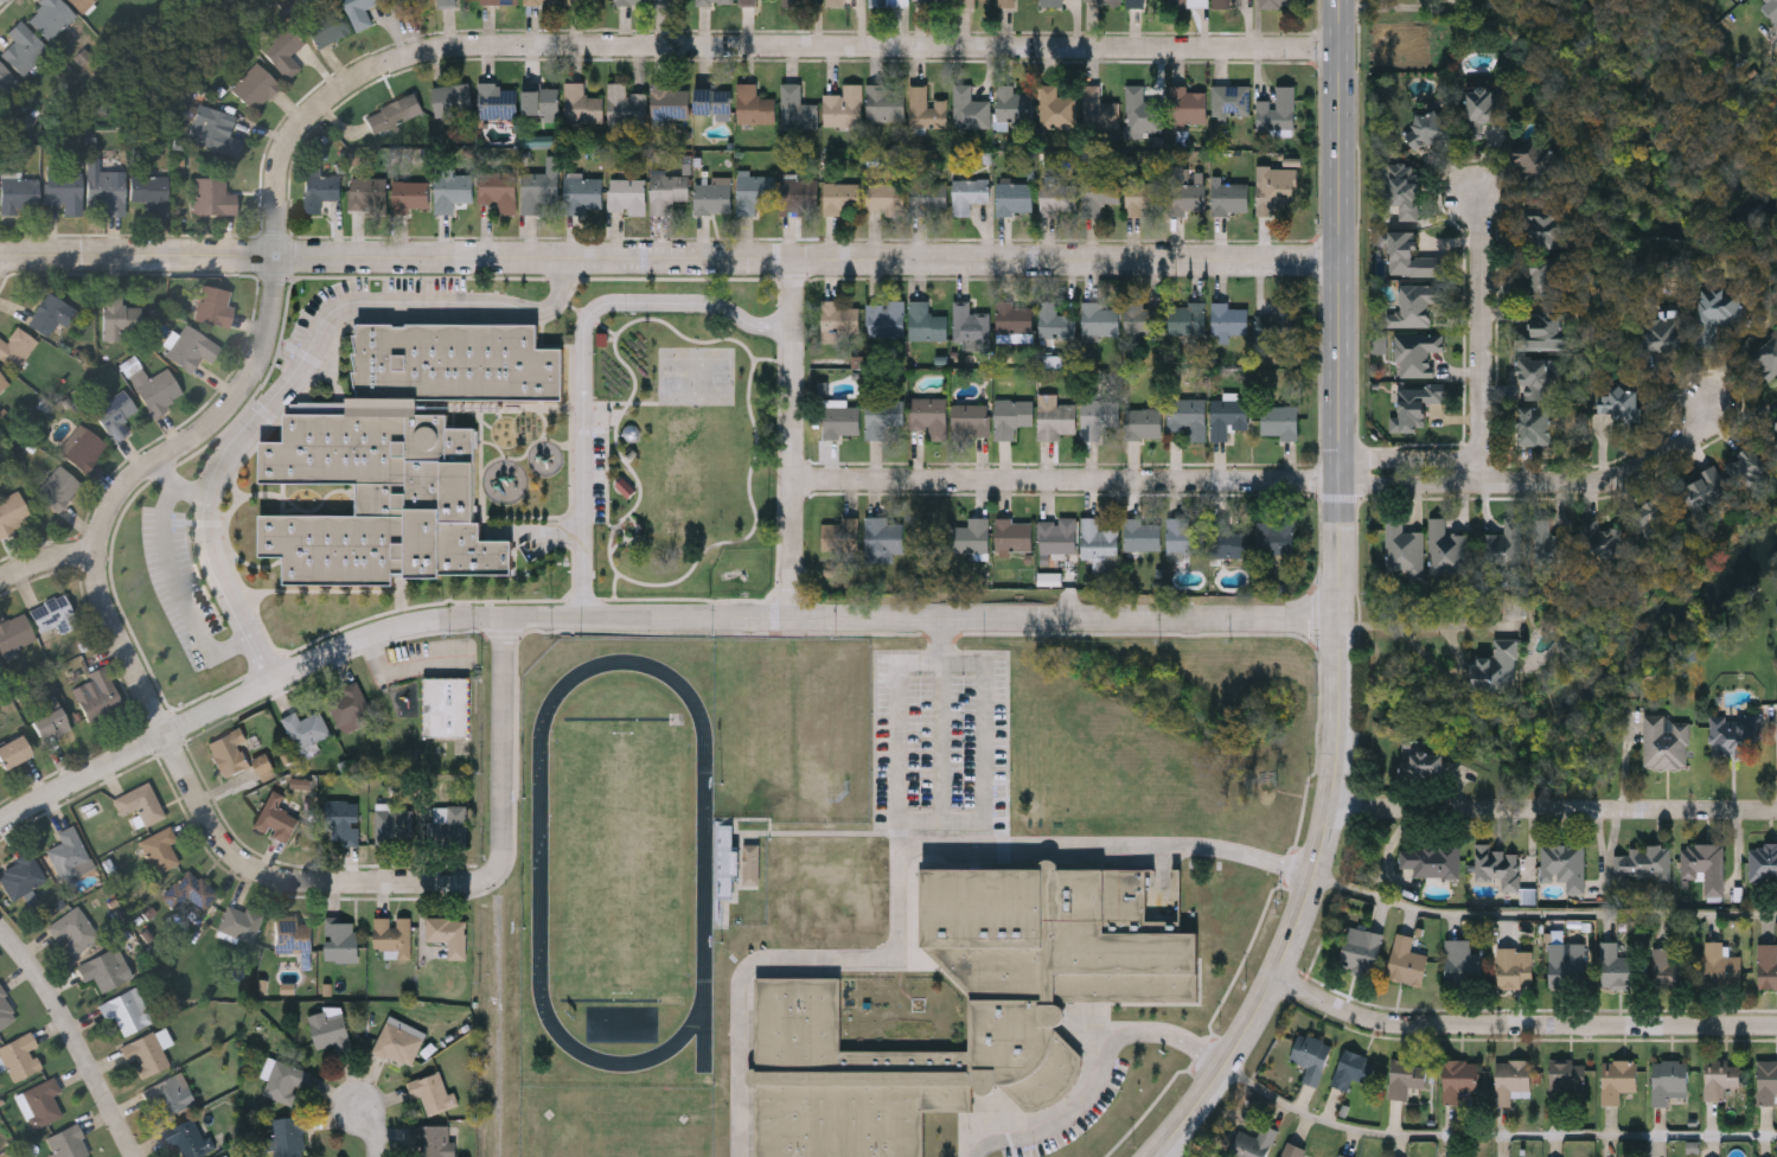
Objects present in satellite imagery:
building: (498, 0)
building: (542, 0)
building: (580, 0)
building: (631, 0)
building: (934, 0)
building: (1445, 0)
building: (446, 1)
building: (661, 1)
building: (714, 1)
building: (747, 1)
building: (790, 1)
building: (833, 1)
building: (877, 1)
building: (965, 1)
building: (1005, 1)
building: (1134, 1)
building: (1277, 1)
building: (1775, 1)
building: (1049, 2)
building: (1110, 2)
building: (1188, 2)
building: (1221, 2)
building: (81, 4)
building: (403, 5)
building: (358, 11)
building: (1770, 11)
building: (49, 15)
building: (1775, 20)
building: (326, 25)
building: (23, 47)
building: (282, 49)
park: (167, 75)
building: (5, 78)
building: (255, 87)
building: (452, 98)
building: (1231, 98)
building: (498, 100)
building: (539, 100)
building: (884, 100)
building: (669, 101)
building: (712, 101)
building: (581, 103)
building: (753, 103)
building: (1012, 103)
building: (1188, 103)
building: (1479, 103)
building: (625, 104)
building: (843, 104)
building: (795, 106)
building: (1055, 106)
building: (926, 107)
building: (969, 107)
building: (1098, 107)
building: (1277, 107)
building: (1140, 109)
building: (392, 111)
building: (1423, 126)
building: (216, 132)
road: (283, 141)
building: (1530, 155)
building: (538, 185)
building: (318, 187)
building: (498, 187)
building: (1399, 187)
building: (64, 188)
building: (107, 188)
building: (452, 188)
building: (666, 188)
building: (752, 188)
building: (799, 190)
building: (151, 191)
building: (366, 191)
building: (1098, 191)
building: (1272, 191)
building: (409, 192)
building: (581, 192)
building: (626, 192)
building: (712, 192)
building: (969, 192)
building: (18, 193)
building: (1165, 193)
building: (211, 196)
building: (842, 196)
building: (883, 196)
building: (927, 196)
building: (1014, 196)
building: (1231, 196)
building: (1056, 197)
building: (1541, 228)
building: (1406, 253)
road: (669, 257)
building: (1540, 274)
building: (1412, 303)
building: (212, 305)
building: (1715, 309)
building: (50, 313)
building: (838, 314)
building: (1012, 315)
building: (1187, 315)
building: (117, 317)
building: (884, 317)
building: (1099, 317)
building: (1143, 317)
building: (926, 319)
building: (1054, 319)
building: (1227, 319)
building: (1277, 319)
building: (970, 324)
building: (1543, 328)
building: (1660, 332)
road: (1481, 338)
building: (1379, 344)
building: (15, 347)
building: (191, 347)
building: (1414, 352)
road: (586, 358)
building: (1766, 358)
park: (696, 373)
road: (288, 377)
building: (1533, 377)
building: (2, 379)
building: (154, 389)
building: (1616, 402)
building: (1412, 404)
building: (928, 411)
building: (1227, 413)
building: (114, 414)
building: (881, 414)
building: (1187, 414)
building: (1010, 415)
building: (1098, 415)
building: (970, 417)
building: (1056, 417)
building: (840, 420)
building: (1280, 420)
building: (1143, 421)
building: (1532, 424)
road: (793, 434)
building: (1772, 440)
building: (83, 448)
building: (402, 452)
building: (1776, 454)
road: (1412, 459)
building: (1745, 467)
road: (1609, 480)
road: (1067, 481)
road: (1411, 485)
road: (177, 486)
building: (57, 487)
building: (1701, 488)
building: (1650, 511)
building: (12, 512)
building: (1014, 531)
building: (839, 532)
building: (1056, 532)
building: (1142, 532)
building: (971, 533)
building: (1185, 533)
building: (1276, 535)
building: (1098, 536)
building: (882, 537)
building: (1228, 538)
building: (1602, 542)
building: (1400, 545)
building: (1501, 546)
building: (1443, 548)
building: (1552, 549)
road: (46, 557)
road: (184, 596)
road: (1340, 602)
building: (52, 615)
road: (644, 615)
building: (14, 631)
road: (944, 657)
road: (1434, 665)
building: (0, 666)
building: (1497, 666)
road: (408, 673)
building: (97, 695)
building: (350, 703)
building: (443, 705)
building: (50, 720)
building: (307, 727)
road: (942, 730)
building: (1733, 736)
building: (1664, 742)
road: (503, 746)
building: (13, 750)
building: (229, 750)
building: (1423, 763)
building: (264, 765)
building: (141, 801)
road: (1554, 810)
building: (277, 816)
building: (344, 817)
building: (450, 823)
building: (395, 824)
building: (160, 848)
building: (70, 851)
park: (621, 856)
building: (1432, 859)
building: (1561, 862)
building: (1641, 862)
building: (1762, 862)
building: (725, 863)
road: (897, 863)
building: (752, 864)
building: (1496, 864)
building: (1702, 864)
building: (21, 875)
building: (190, 889)
road: (1543, 909)
building: (241, 921)
building: (73, 927)
building: (293, 932)
building: (449, 932)
building: (394, 933)
building: (343, 937)
building: (1360, 948)
building: (1405, 960)
building: (1566, 961)
building: (1460, 963)
building: (1720, 965)
building: (1766, 965)
building: (1616, 966)
building: (106, 967)
building: (1514, 967)
building: (1668, 967)
building: (288, 989)
building: (972, 1004)
building: (7, 1009)
building: (124, 1009)
road: (1522, 1021)
building: (332, 1027)
road: (75, 1036)
building: (398, 1041)
building: (148, 1050)
building: (21, 1055)
building: (1310, 1055)
building: (1351, 1067)
road: (1099, 1074)
building: (1405, 1075)
building: (1720, 1076)
building: (1458, 1078)
building: (1509, 1079)
building: (1616, 1079)
building: (286, 1080)
building: (1566, 1080)
building: (1668, 1080)
building: (1766, 1080)
building: (434, 1091)
building: (170, 1095)
building: (40, 1101)
road: (1497, 1119)
road: (372, 1130)
building: (288, 1136)
building: (190, 1137)
building: (434, 1139)
building: (69, 1143)
building: (1251, 1143)
building: (1290, 1149)
road: (1163, 1155)
building: (1343, 1155)
building: (224, 1156)

